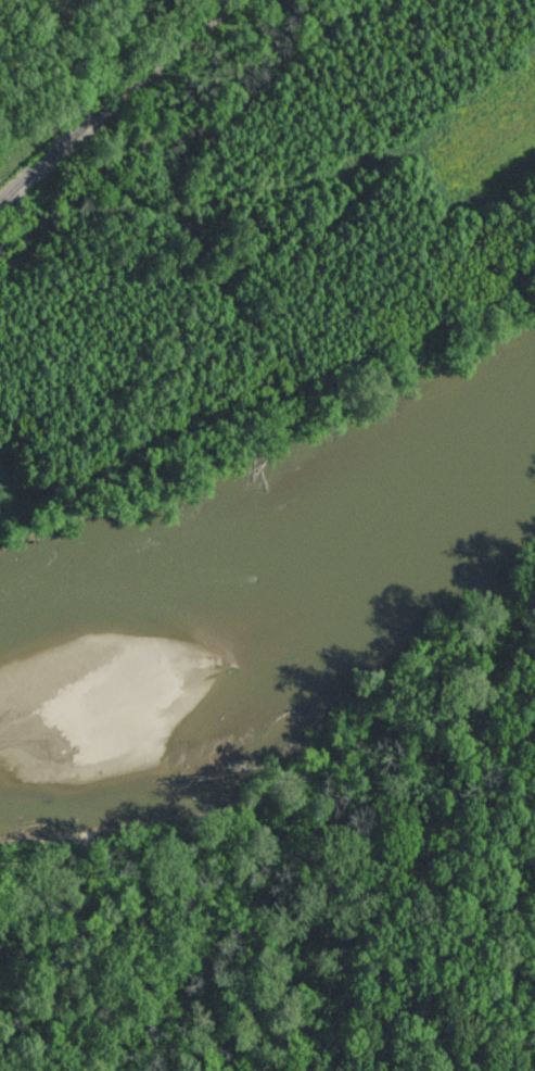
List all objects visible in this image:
railway: (113, 101)
river: (275, 543)

